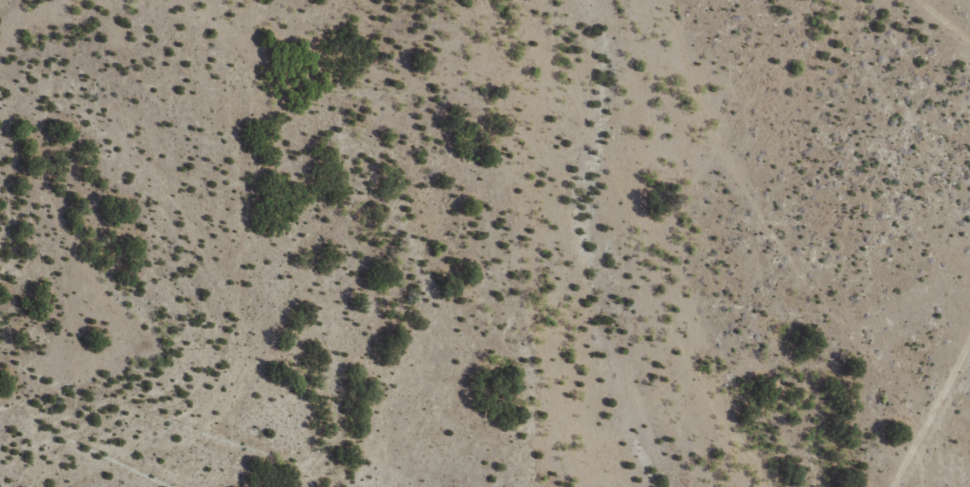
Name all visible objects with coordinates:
road: (956, 17)
road: (938, 430)

